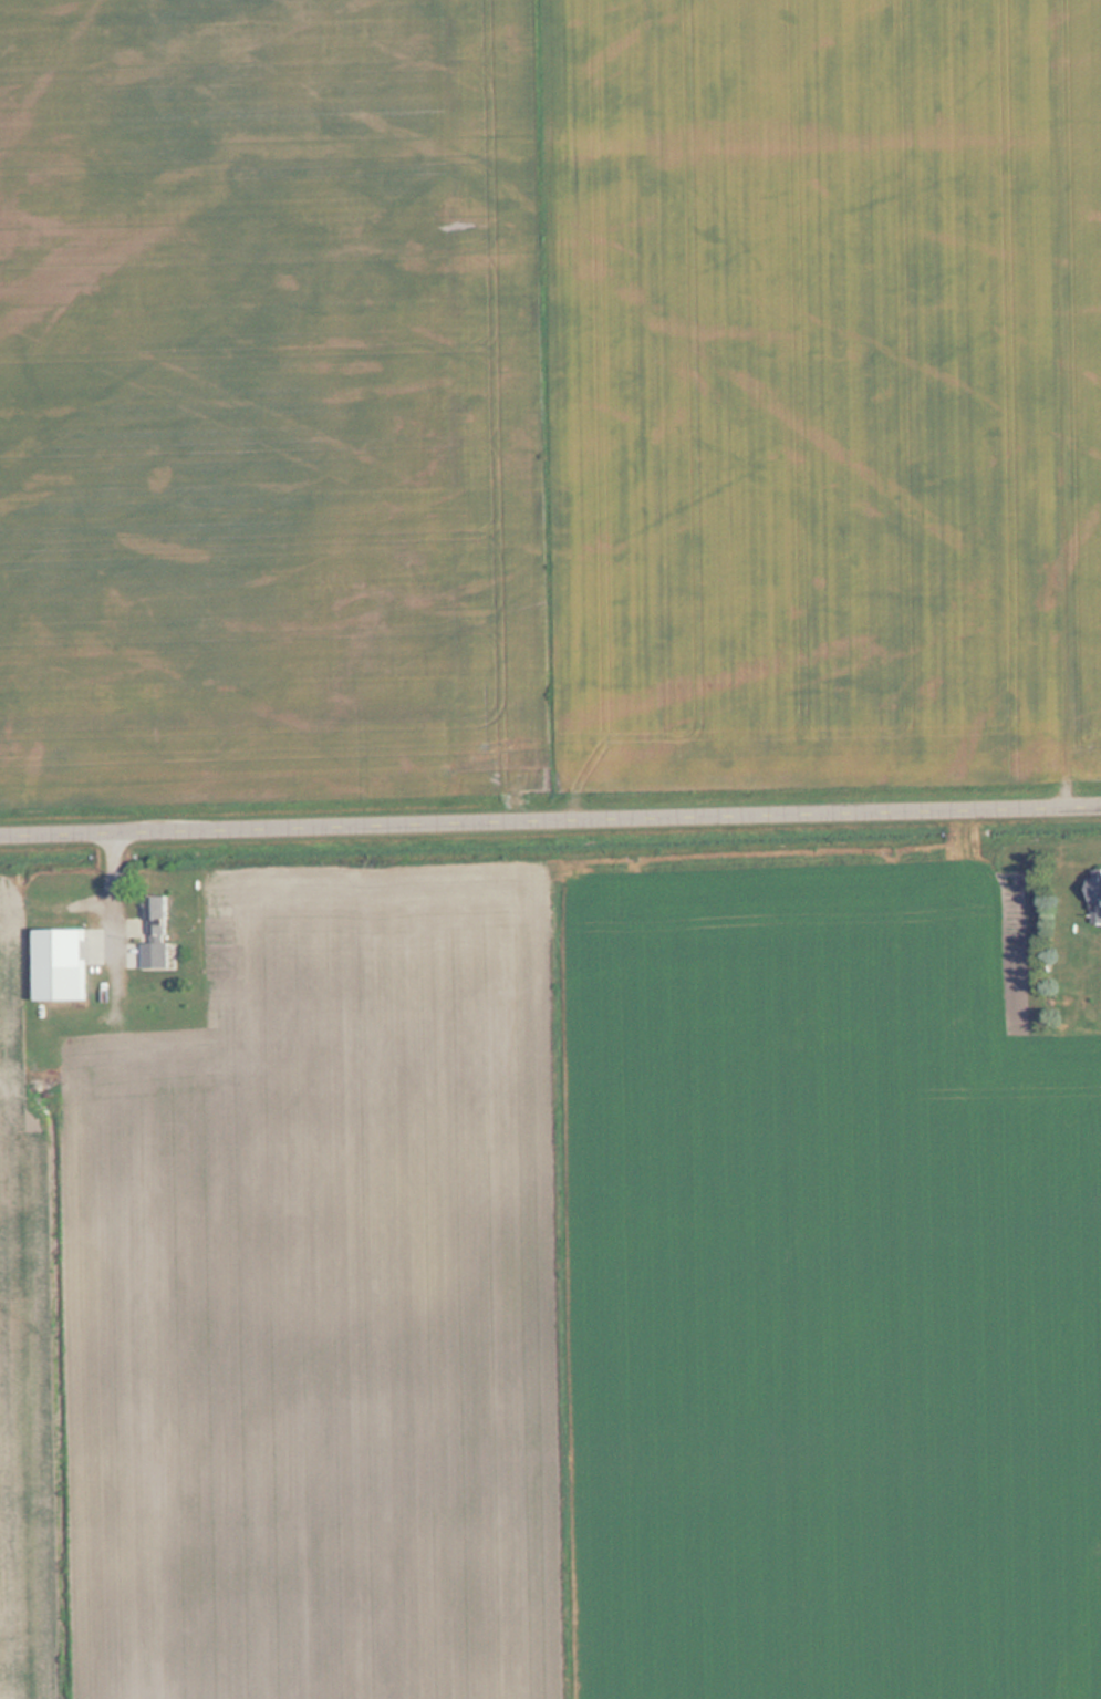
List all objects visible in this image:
road: (550, 812)
building: (1095, 893)
building: (157, 933)
building: (62, 964)

